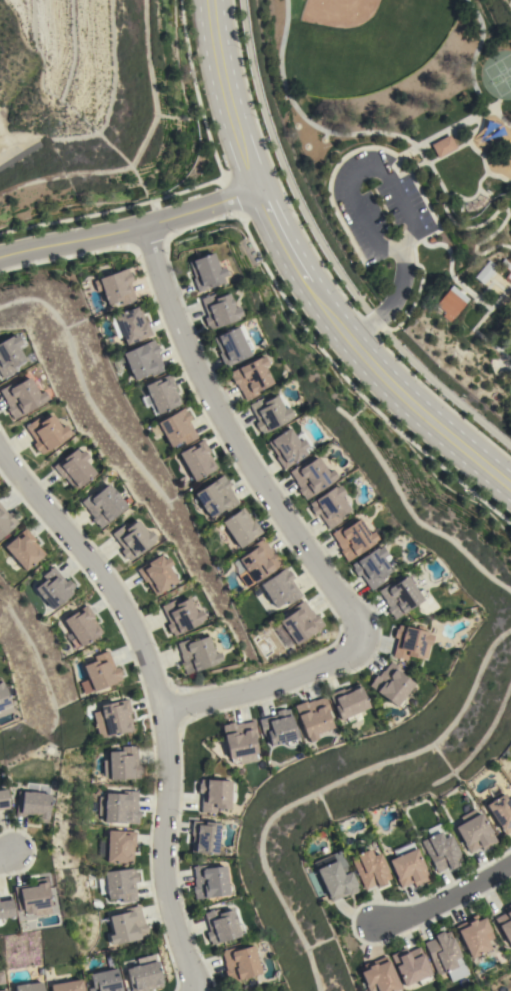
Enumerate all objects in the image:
road: (195, 90)
road: (225, 96)
building: (443, 146)
road: (227, 198)
road: (396, 198)
road: (129, 229)
road: (279, 237)
road: (326, 253)
building: (507, 268)
building: (206, 272)
building: (486, 272)
building: (117, 287)
street lamp: (343, 294)
building: (451, 302)
building: (219, 310)
building: (131, 325)
building: (232, 346)
street lamp: (327, 348)
street lamp: (390, 350)
building: (9, 355)
building: (144, 360)
building: (251, 377)
road: (354, 387)
building: (162, 393)
road: (399, 395)
building: (21, 397)
building: (270, 412)
building: (175, 428)
building: (45, 433)
building: (290, 446)
building: (197, 459)
building: (73, 468)
building: (312, 477)
building: (216, 496)
building: (102, 505)
building: (330, 506)
building: (6, 521)
road: (293, 521)
building: (241, 527)
building: (132, 539)
building: (353, 539)
building: (24, 549)
building: (258, 562)
building: (374, 566)
building: (156, 573)
building: (54, 588)
building: (281, 588)
building: (401, 596)
building: (180, 615)
building: (296, 625)
building: (81, 626)
building: (411, 642)
building: (196, 654)
building: (100, 673)
building: (392, 684)
road: (163, 694)
building: (3, 697)
building: (349, 701)
building: (314, 717)
building: (115, 718)
building: (279, 727)
building: (239, 739)
building: (122, 763)
building: (215, 794)
building: (3, 799)
building: (32, 805)
building: (120, 807)
building: (501, 812)
building: (475, 833)
building: (205, 837)
building: (118, 846)
building: (441, 847)
road: (7, 854)
building: (408, 865)
building: (370, 868)
building: (337, 875)
building: (210, 882)
building: (119, 884)
building: (31, 896)
road: (442, 899)
building: (5, 907)
building: (505, 923)
building: (0, 925)
building: (222, 925)
building: (127, 926)
building: (474, 935)
building: (442, 952)
building: (240, 963)
building: (411, 966)
building: (456, 970)
building: (143, 976)
building: (379, 976)
building: (104, 981)
building: (29, 986)
building: (67, 986)
building: (3, 990)

